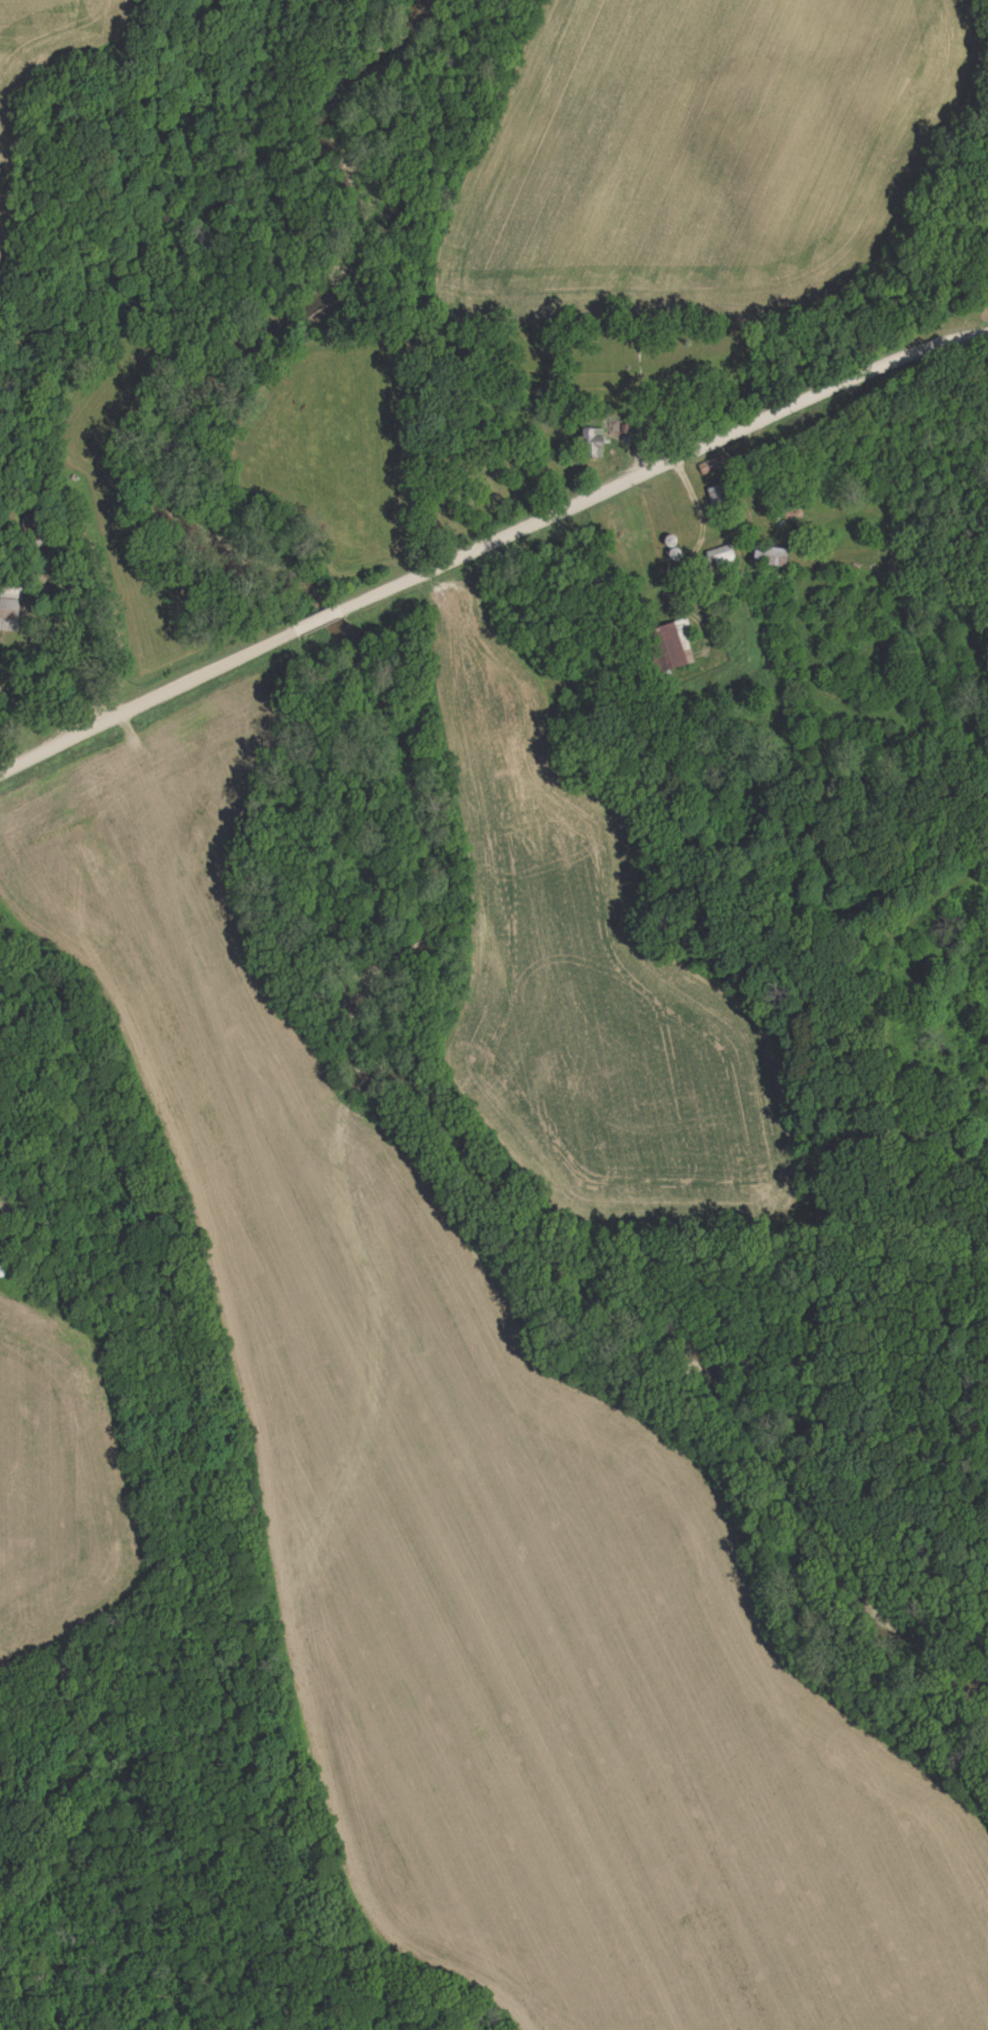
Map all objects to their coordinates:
building: (595, 444)
road: (646, 467)
building: (721, 557)
building: (770, 558)
building: (11, 612)
building: (669, 650)
road: (154, 697)

